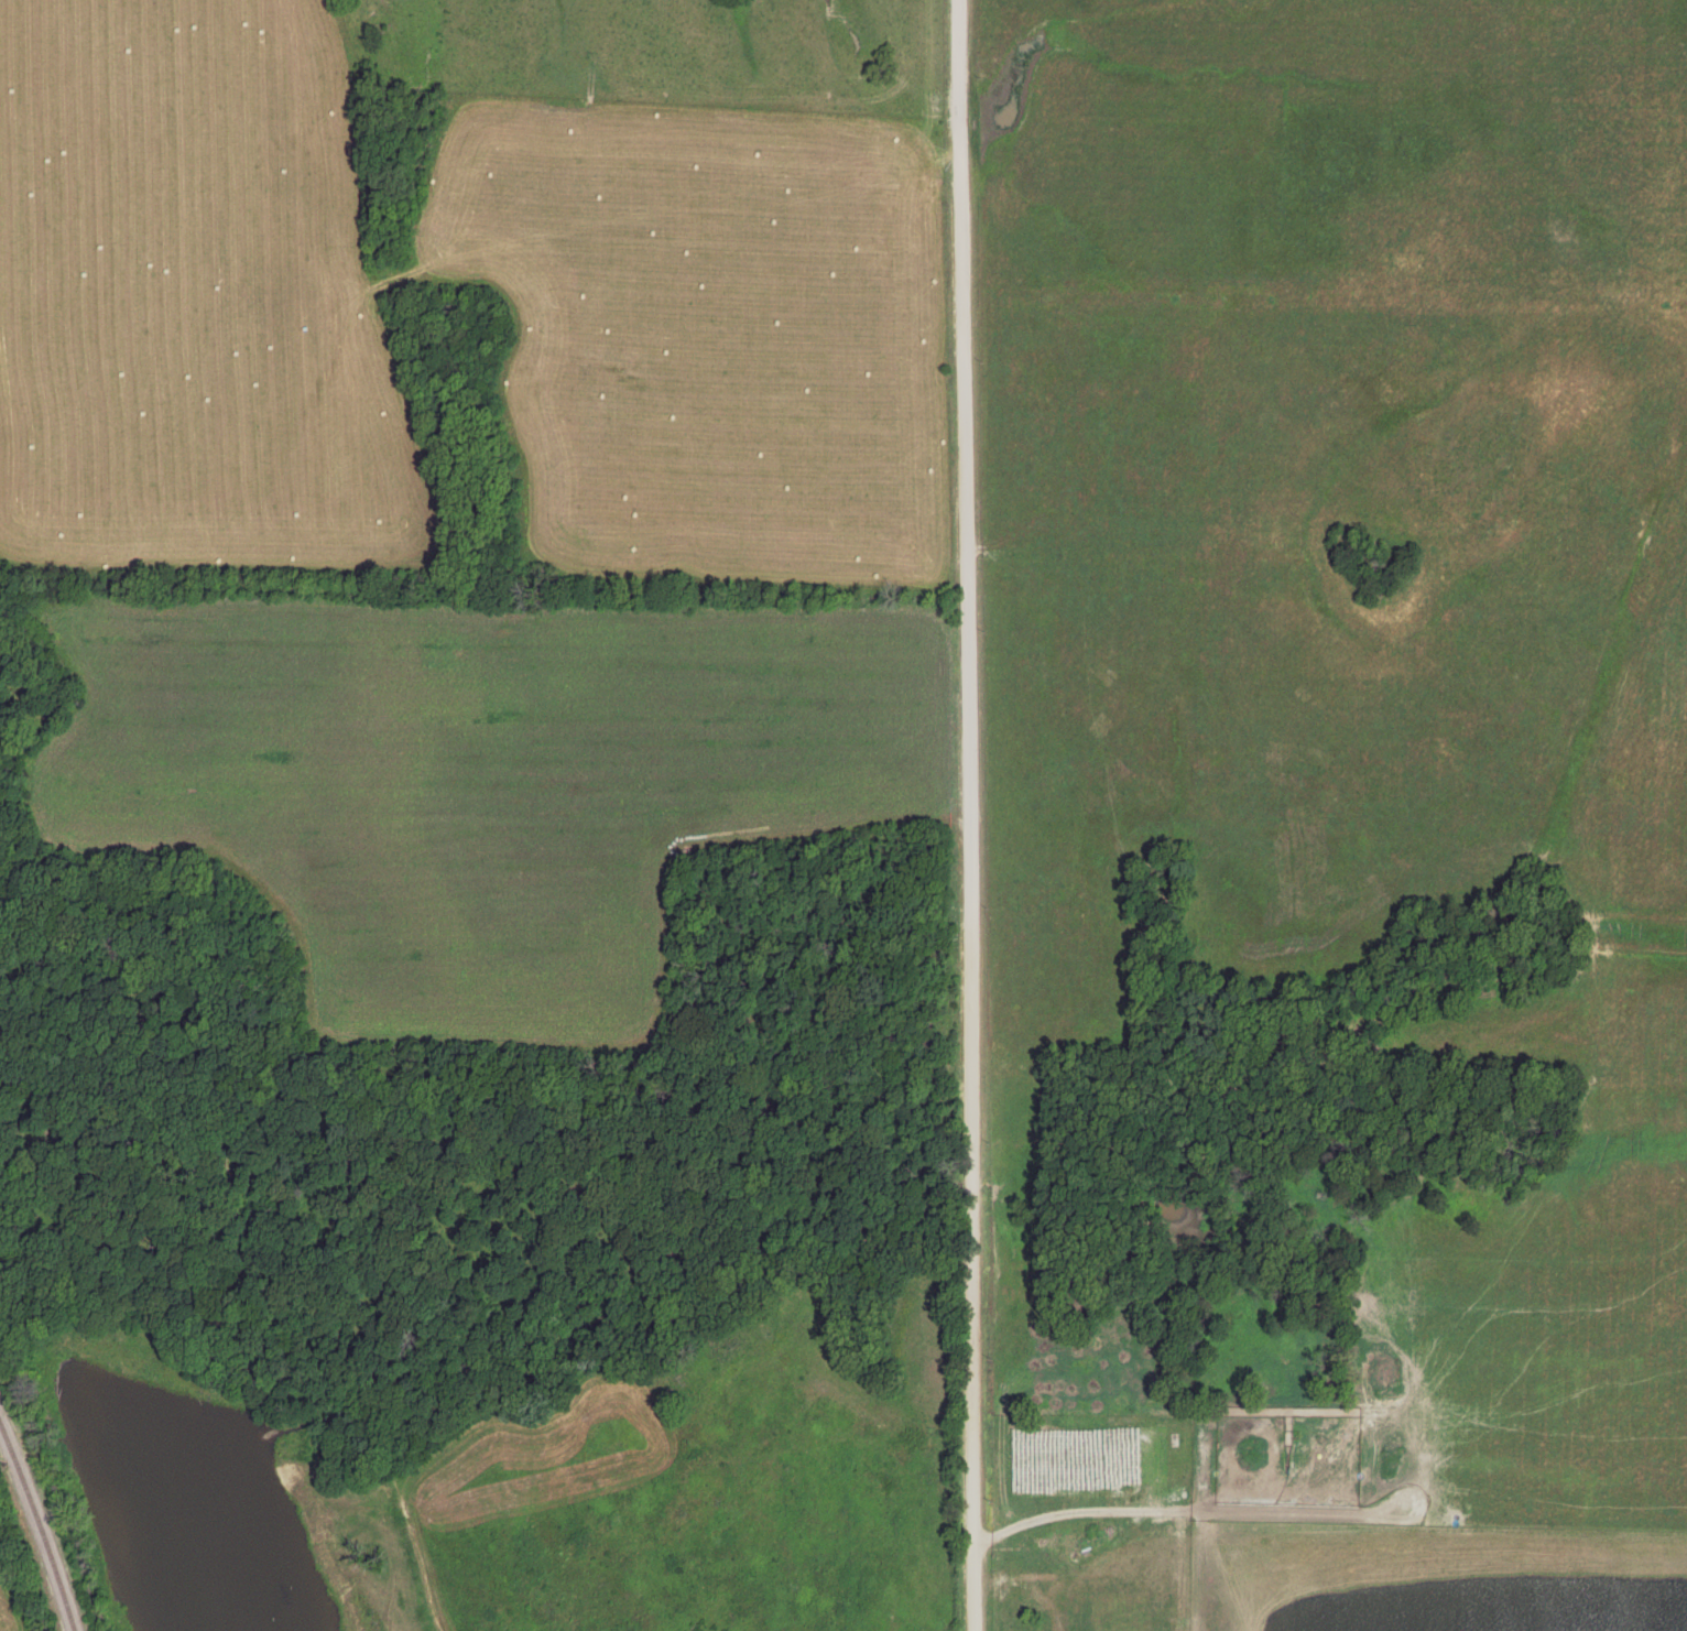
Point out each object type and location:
road: (968, 815)
railway: (41, 1527)

